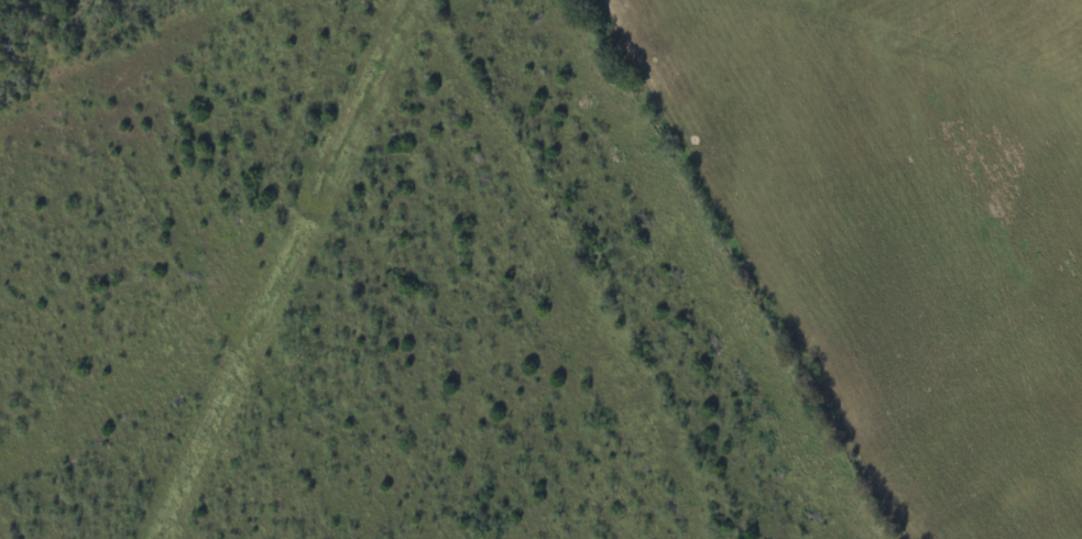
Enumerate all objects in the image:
road: (70, 54)

